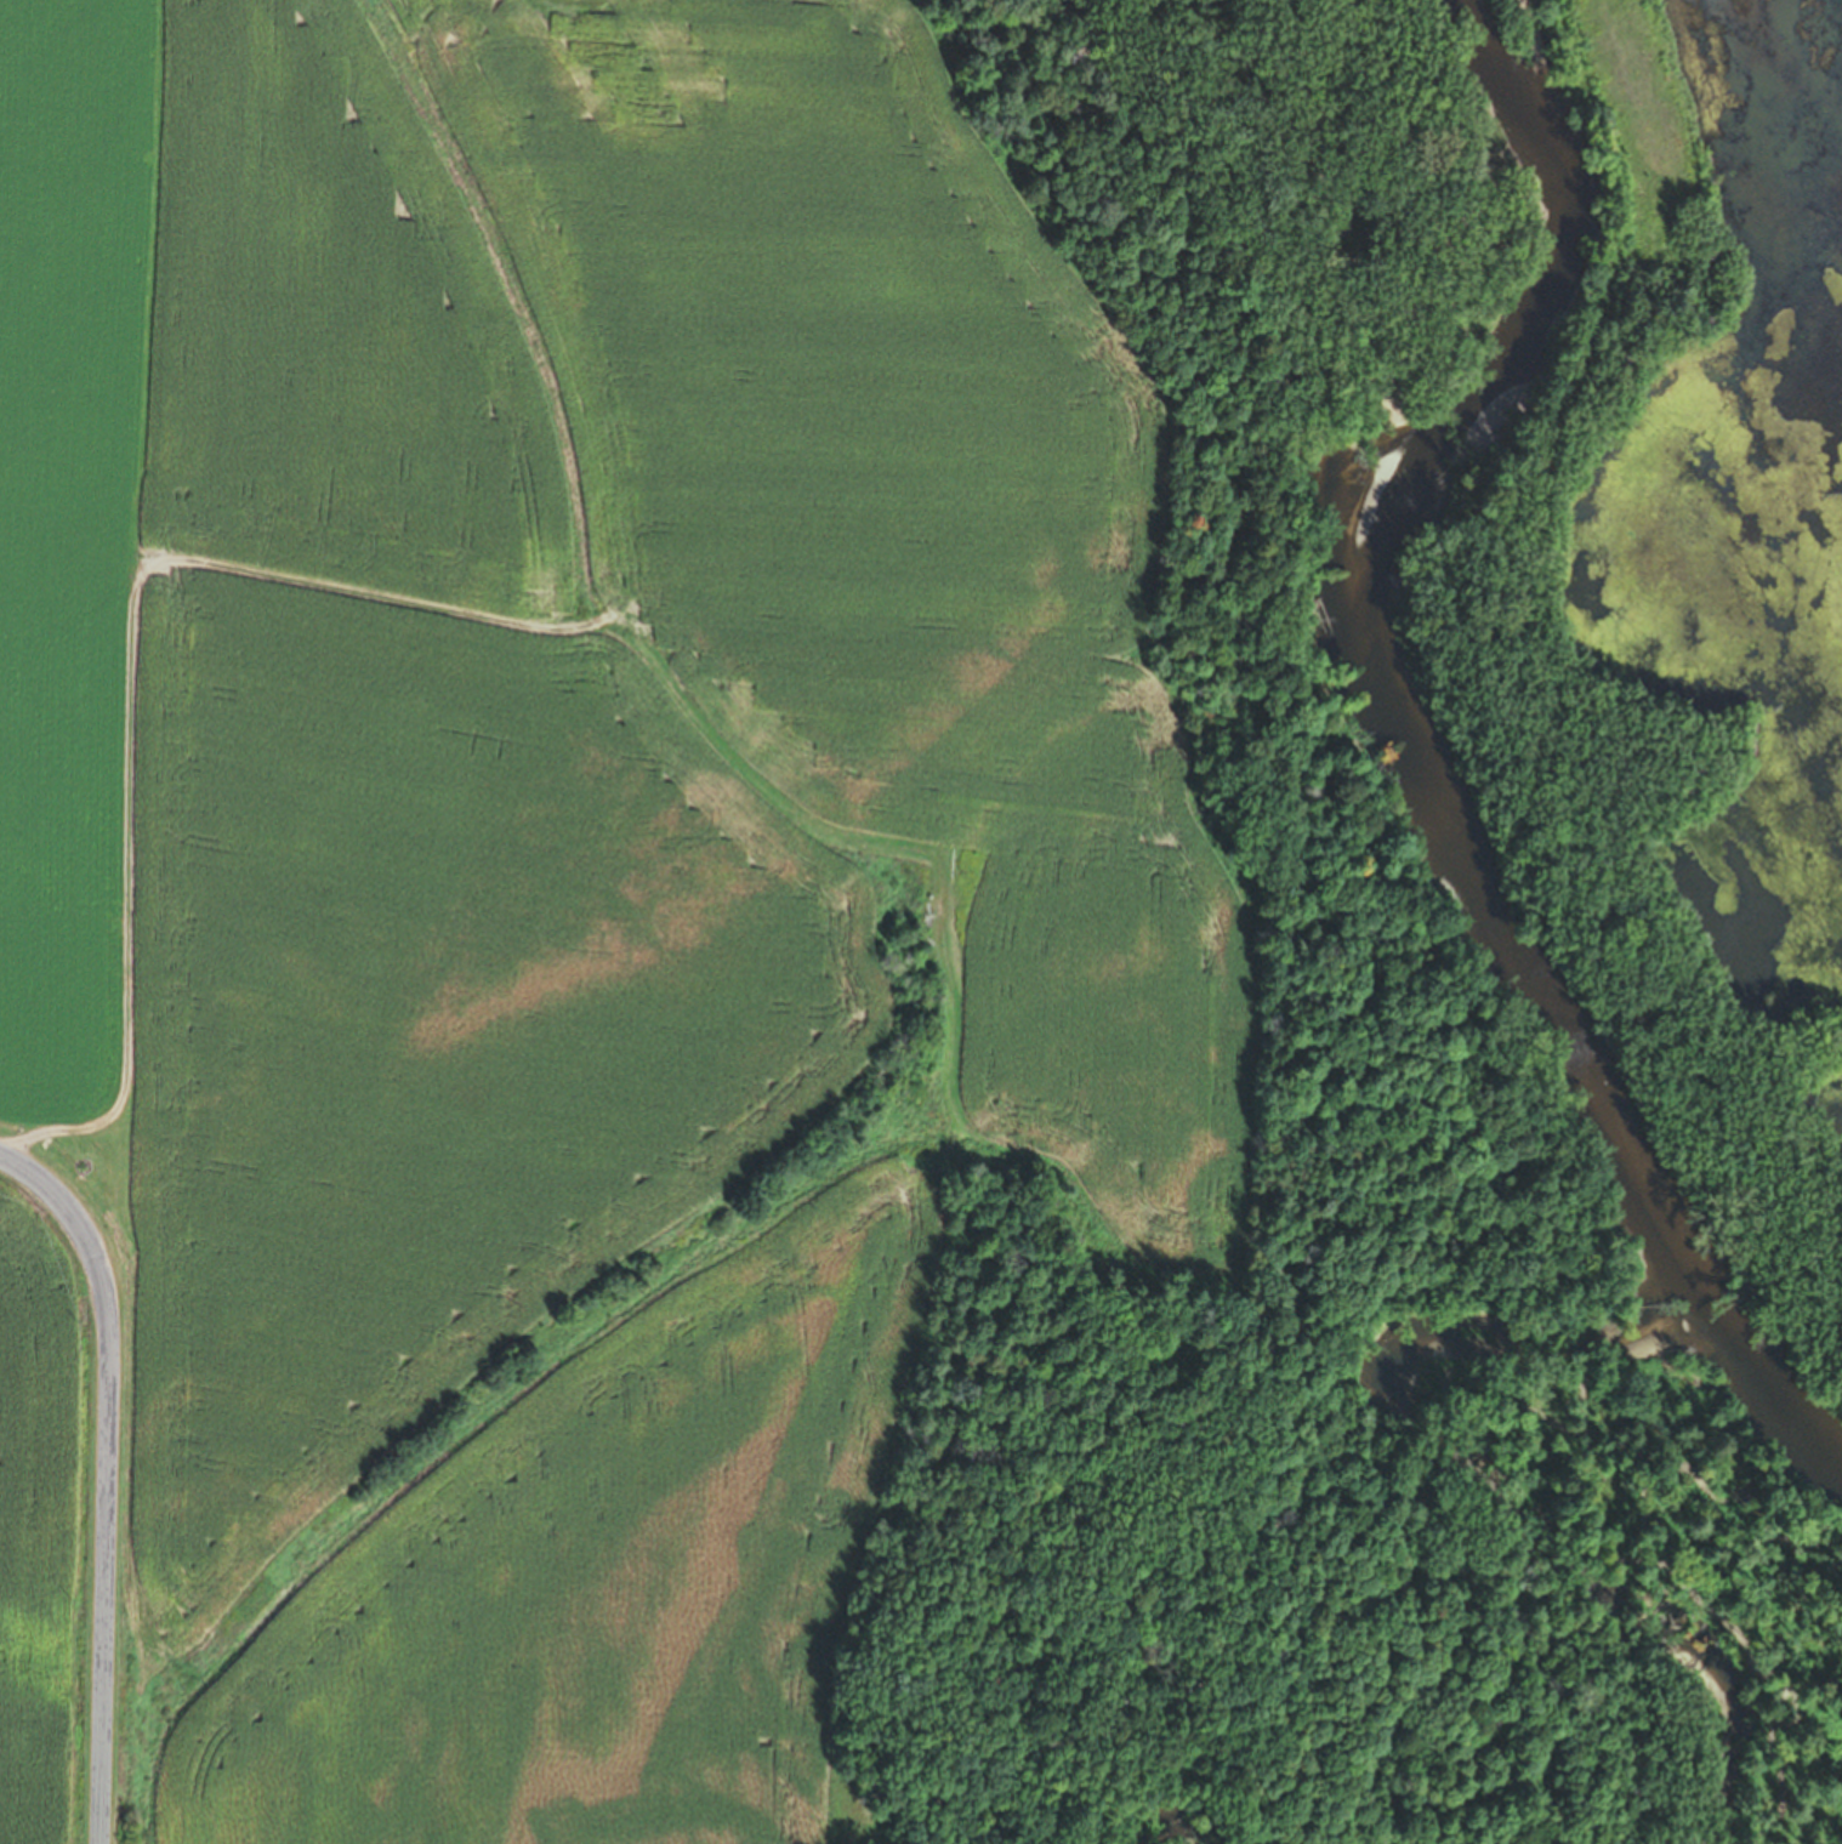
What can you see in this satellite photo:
quarry: (1685, 570)
river: (1445, 711)
river: (1798, 1384)
road: (107, 1478)

